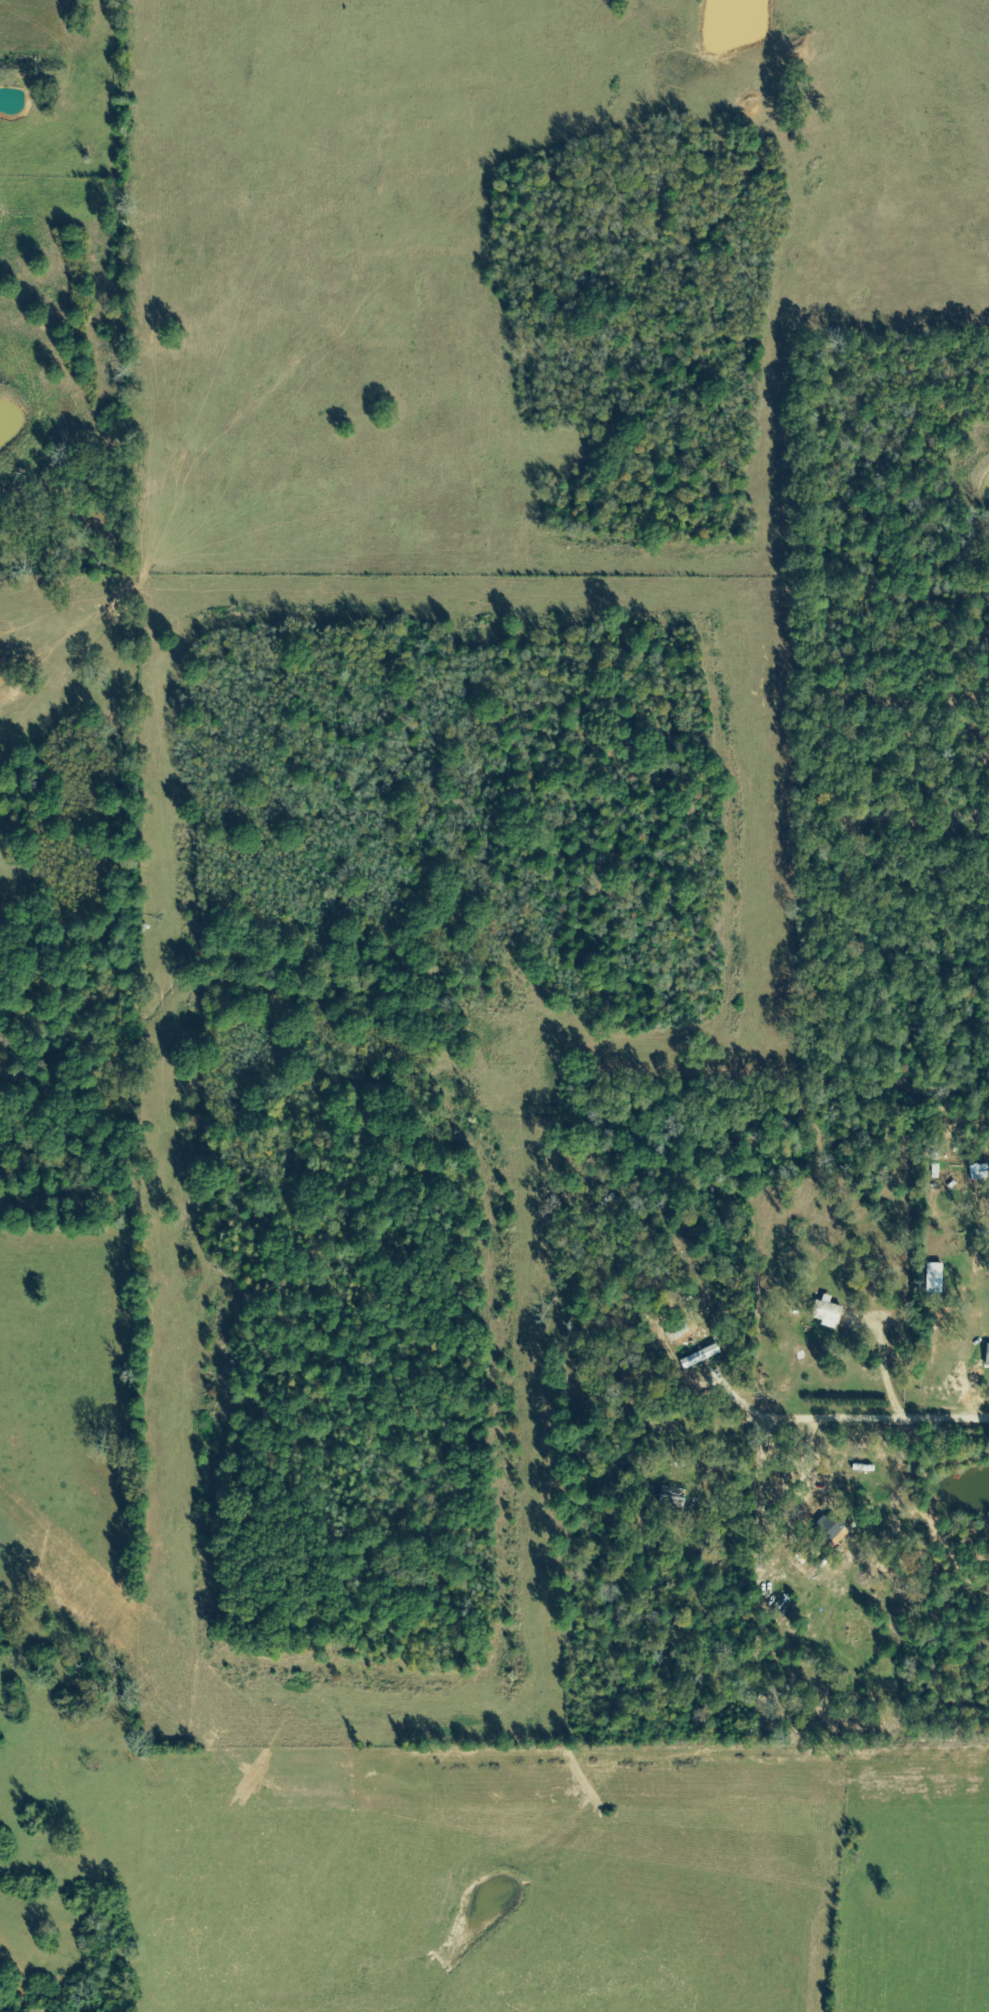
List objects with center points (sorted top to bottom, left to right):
building: (932, 1277)
building: (824, 1313)
building: (682, 1331)
building: (986, 1355)
road: (879, 1414)
building: (830, 1532)

